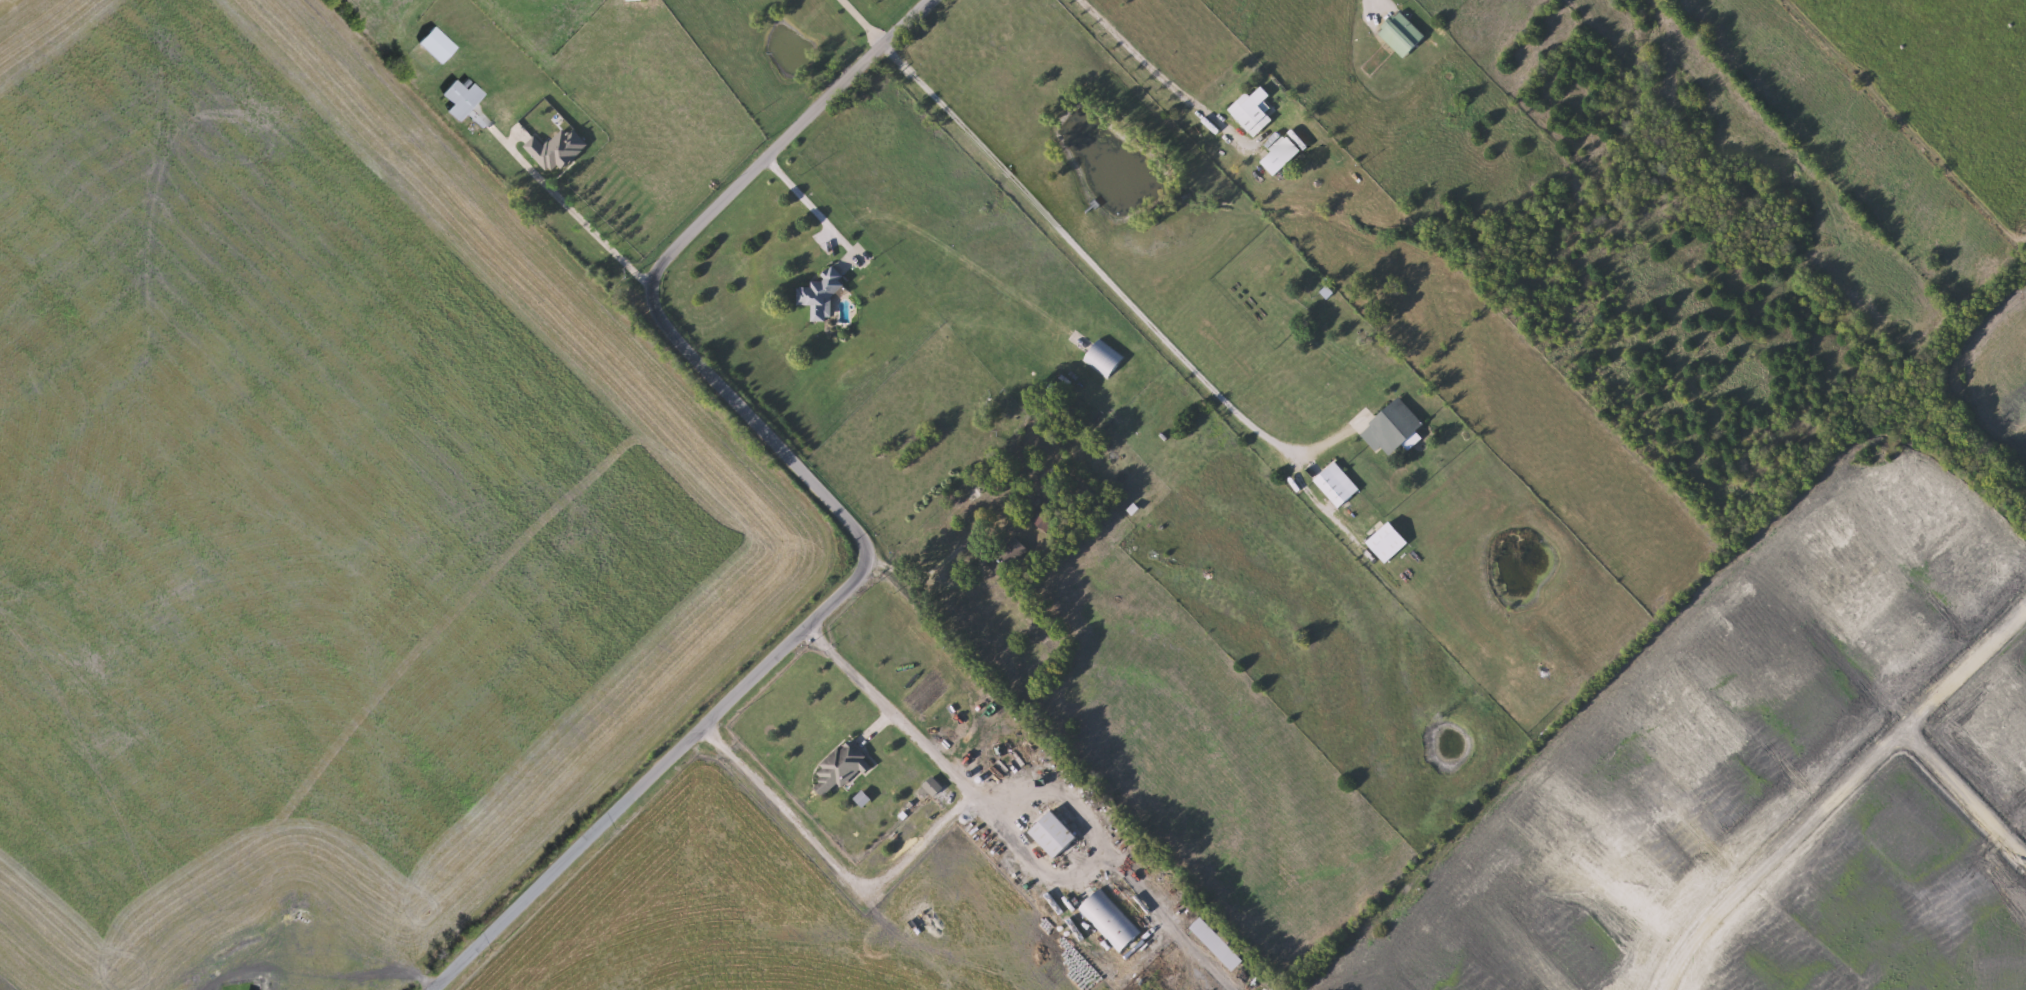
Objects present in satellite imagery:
building: (639, 1)
road: (864, 20)
building: (1404, 36)
building: (439, 47)
road: (1149, 74)
building: (464, 100)
building: (1252, 116)
building: (559, 151)
building: (1282, 157)
road: (808, 198)
road: (571, 204)
road: (1114, 284)
building: (823, 297)
building: (1106, 358)
building: (1394, 429)
building: (1338, 486)
road: (830, 501)
road: (1322, 502)
building: (1042, 518)
building: (1007, 565)
building: (842, 767)
building: (1054, 835)
road: (921, 839)
road: (1099, 840)
road: (1163, 915)
building: (1111, 921)

